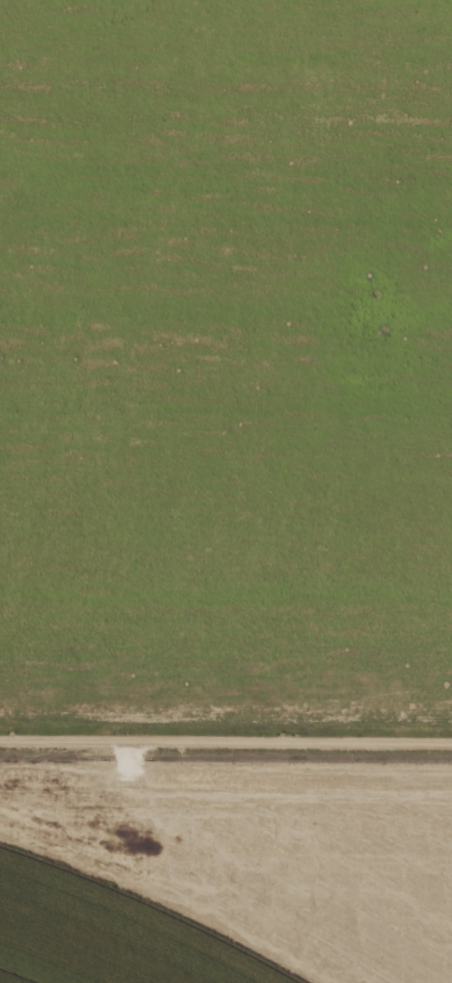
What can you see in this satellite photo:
road: (226, 740)

